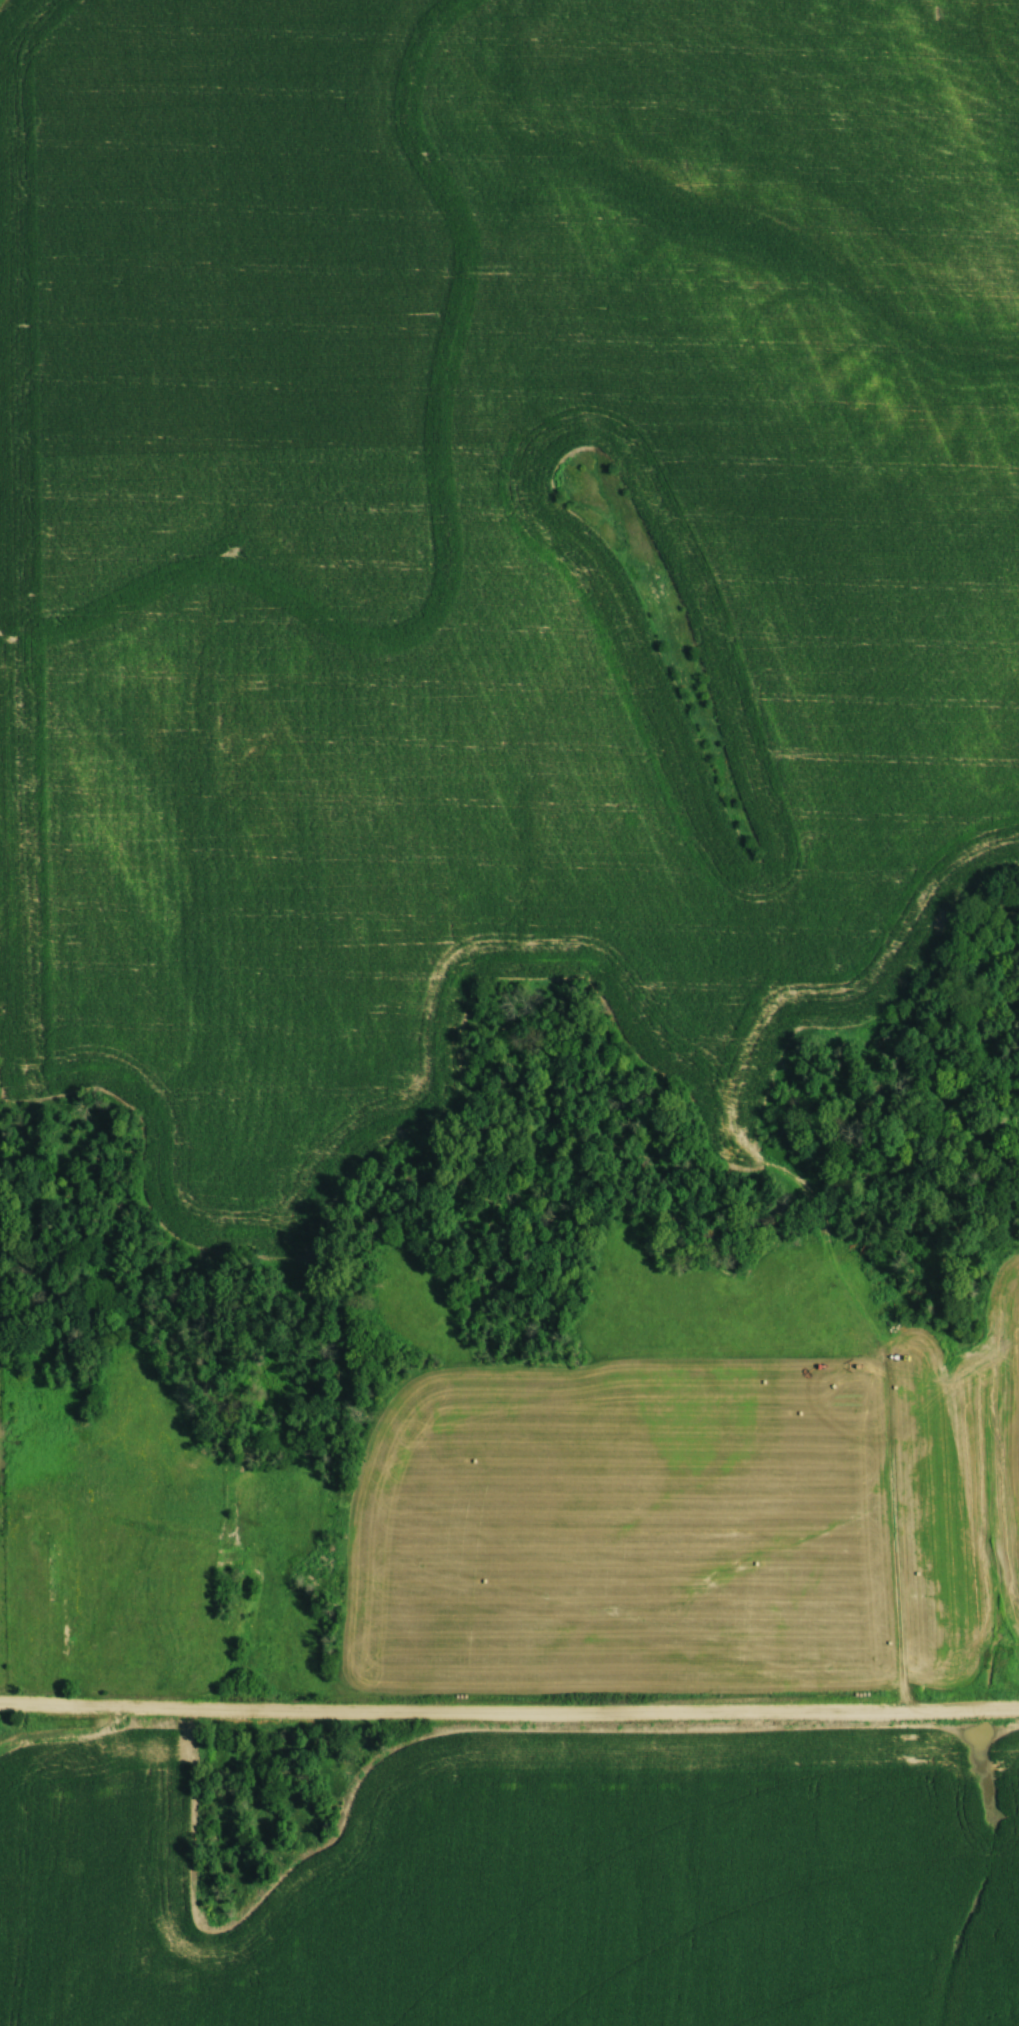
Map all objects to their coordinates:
road: (509, 1714)

